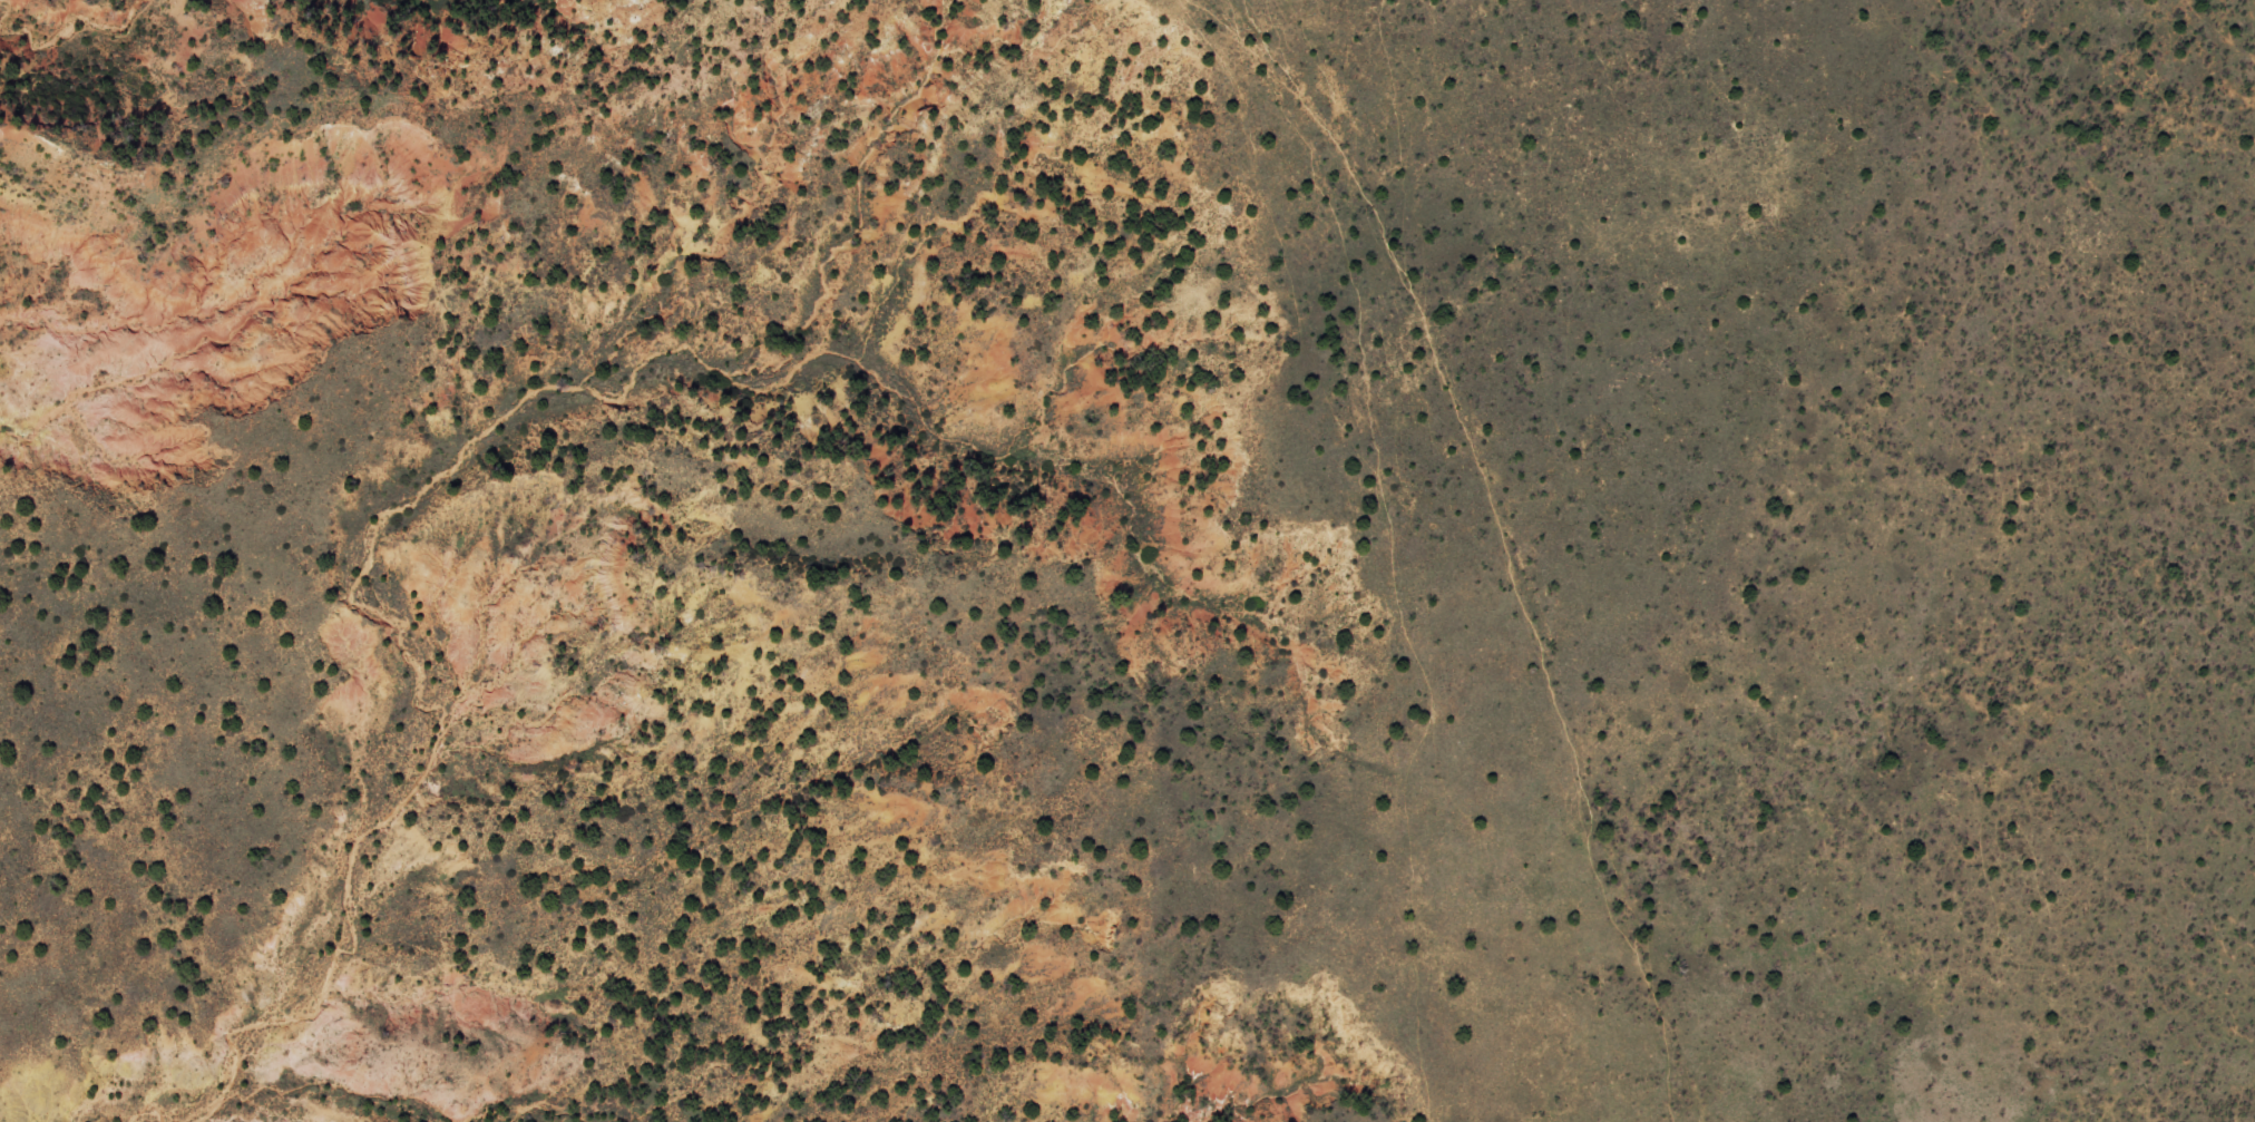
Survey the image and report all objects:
road: (2058, 154)

